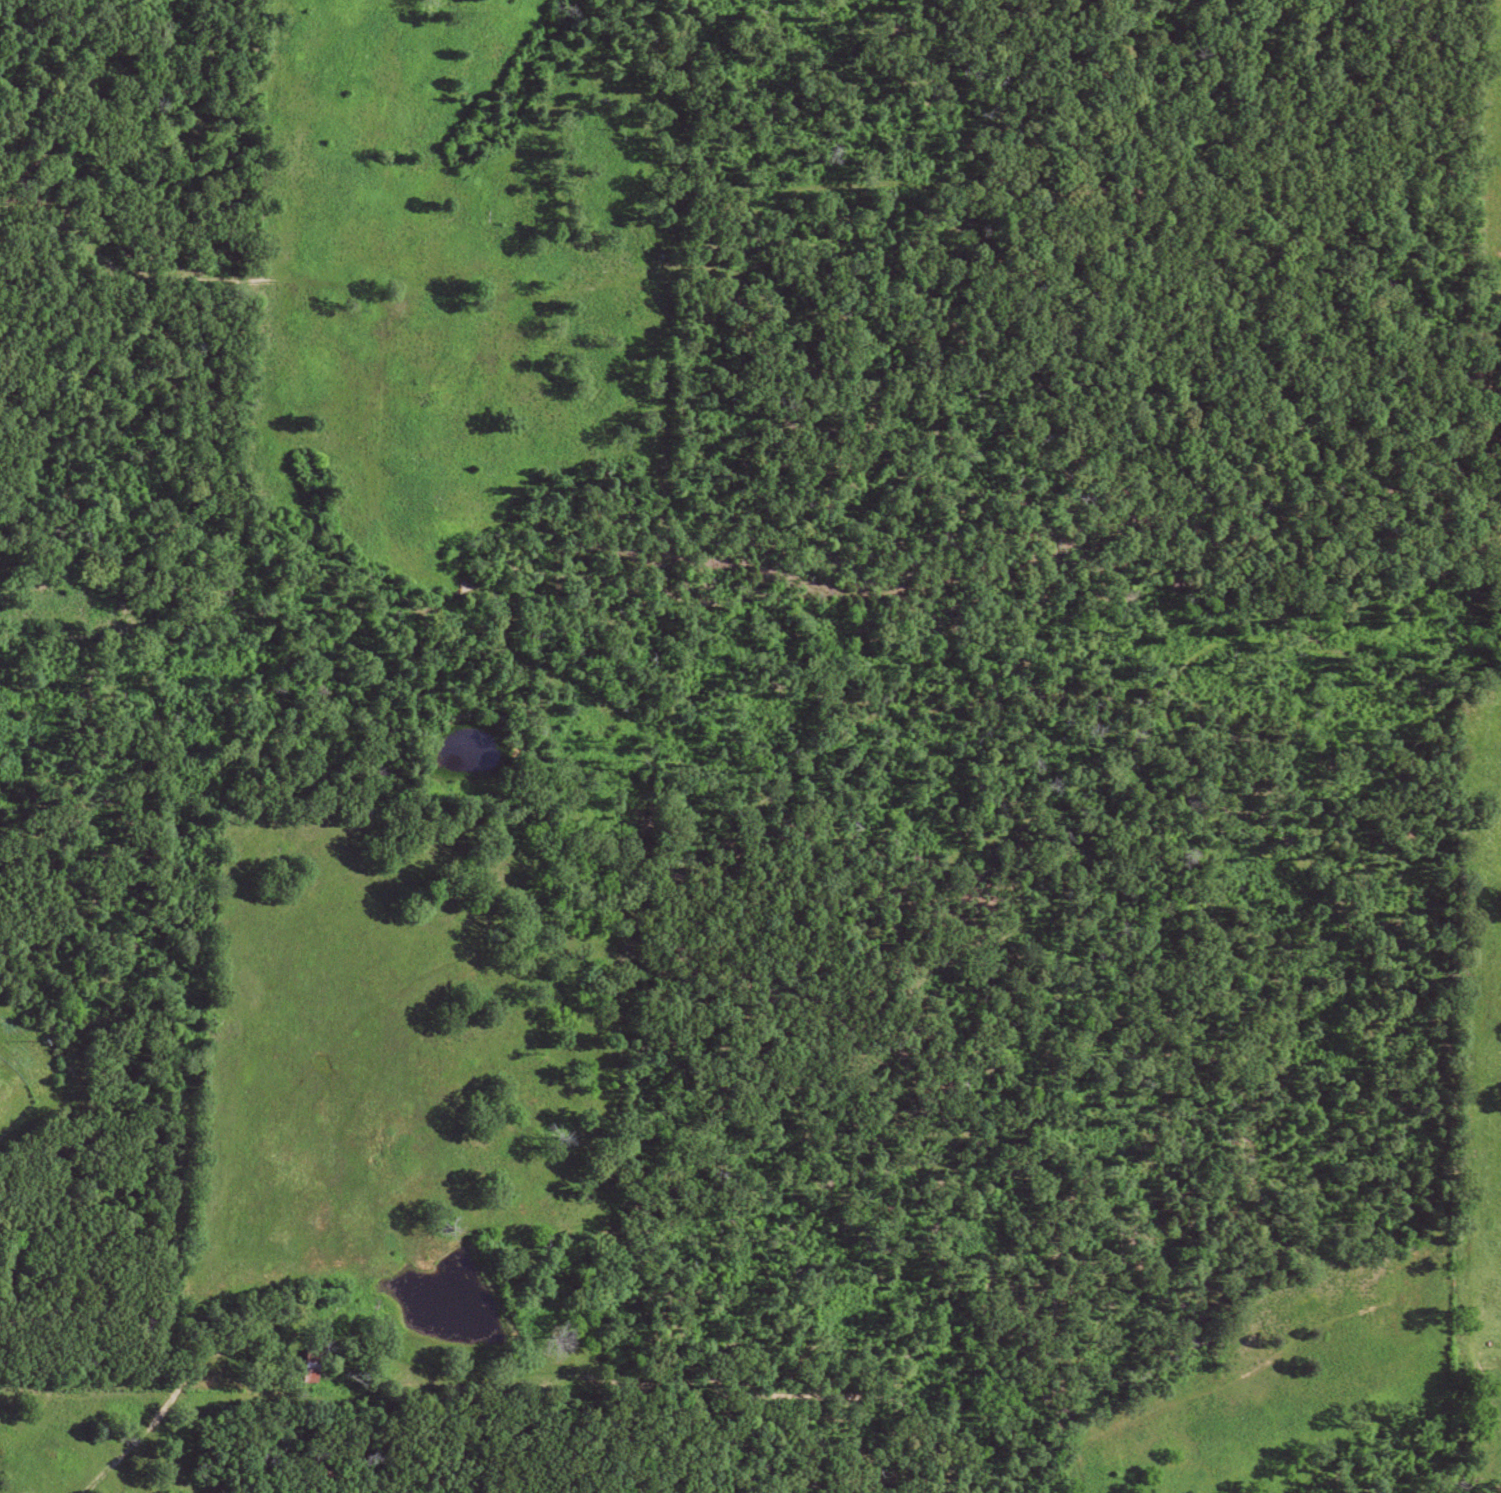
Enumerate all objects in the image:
building: (320, 1366)

